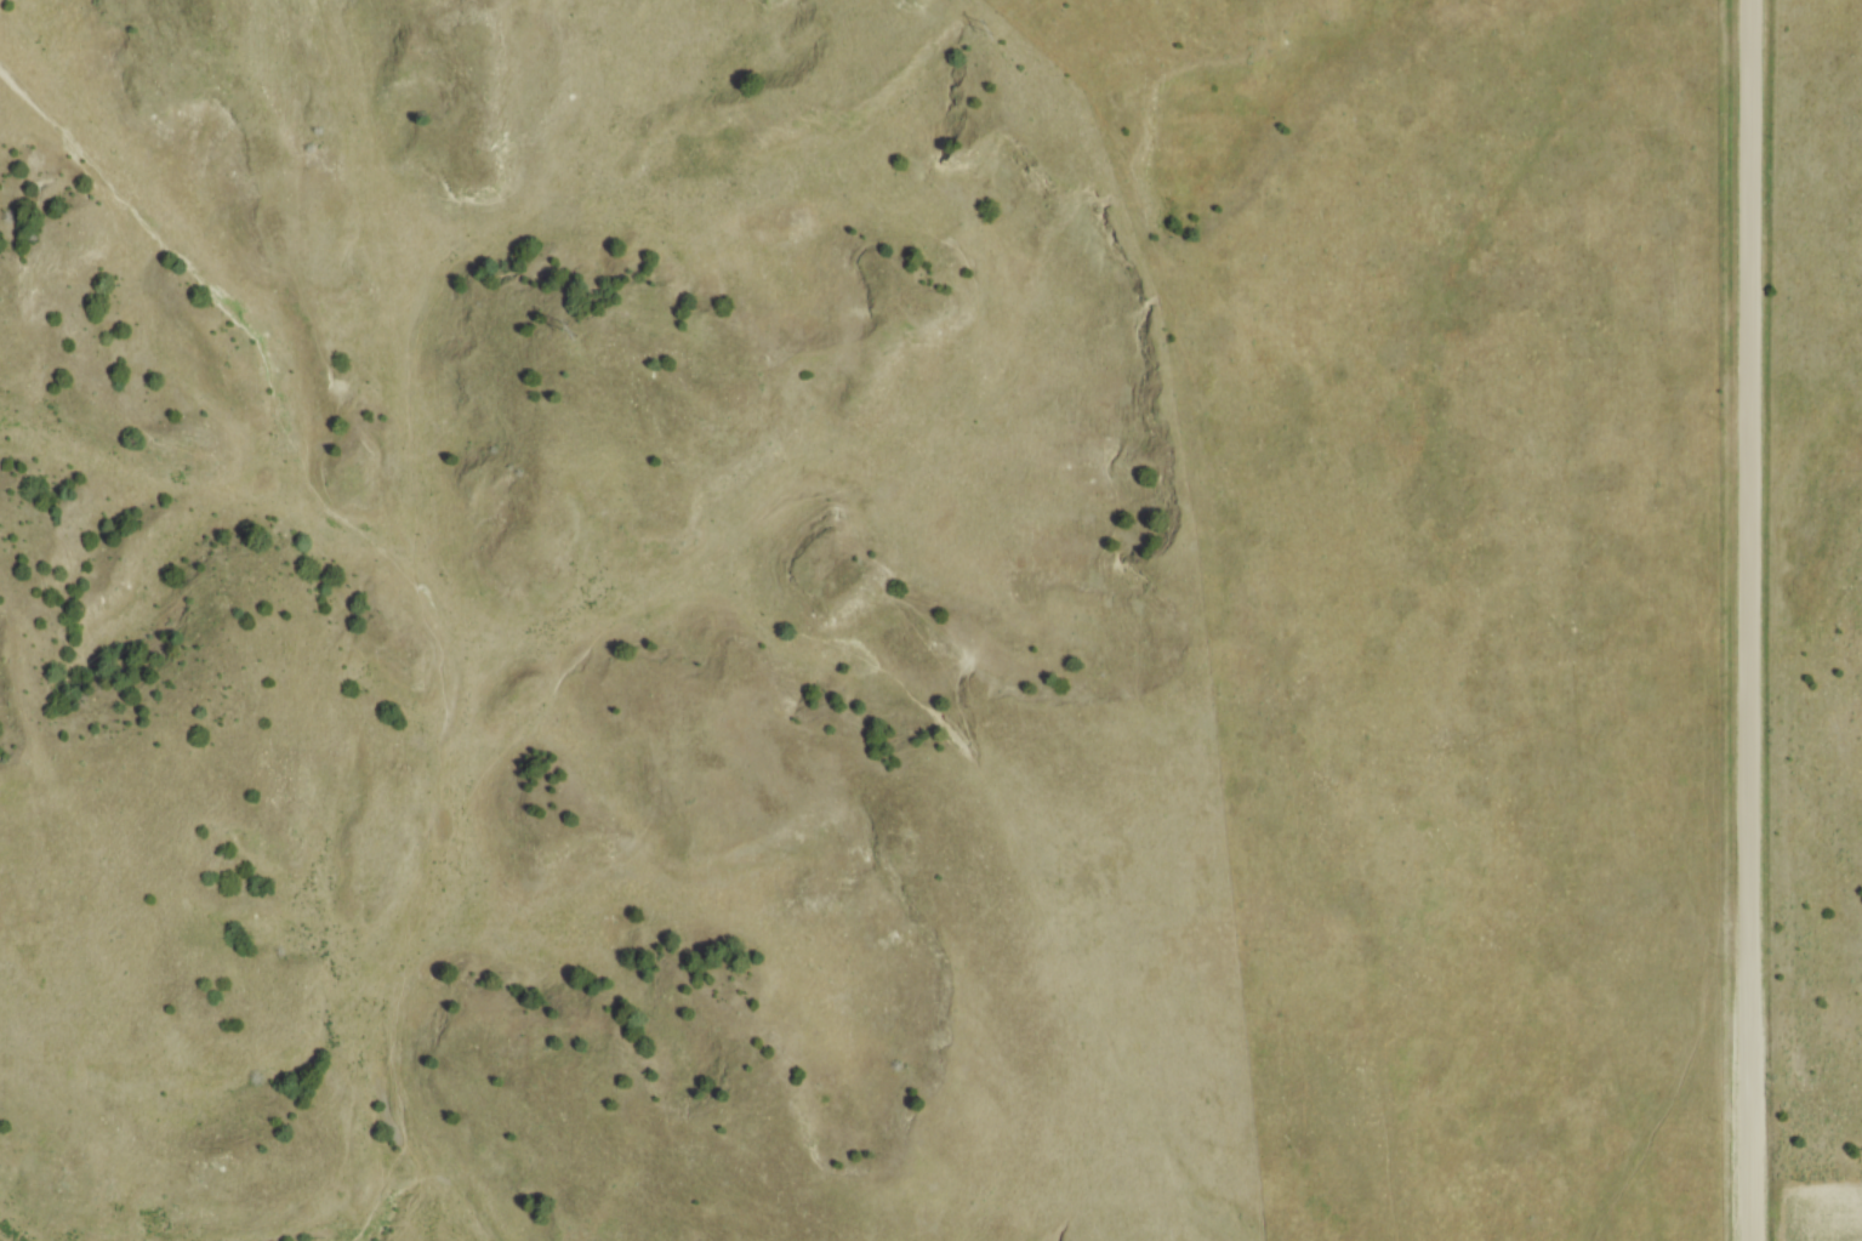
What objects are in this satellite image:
power tower: (992, 34)
power tower: (579, 334)
road: (1750, 620)

